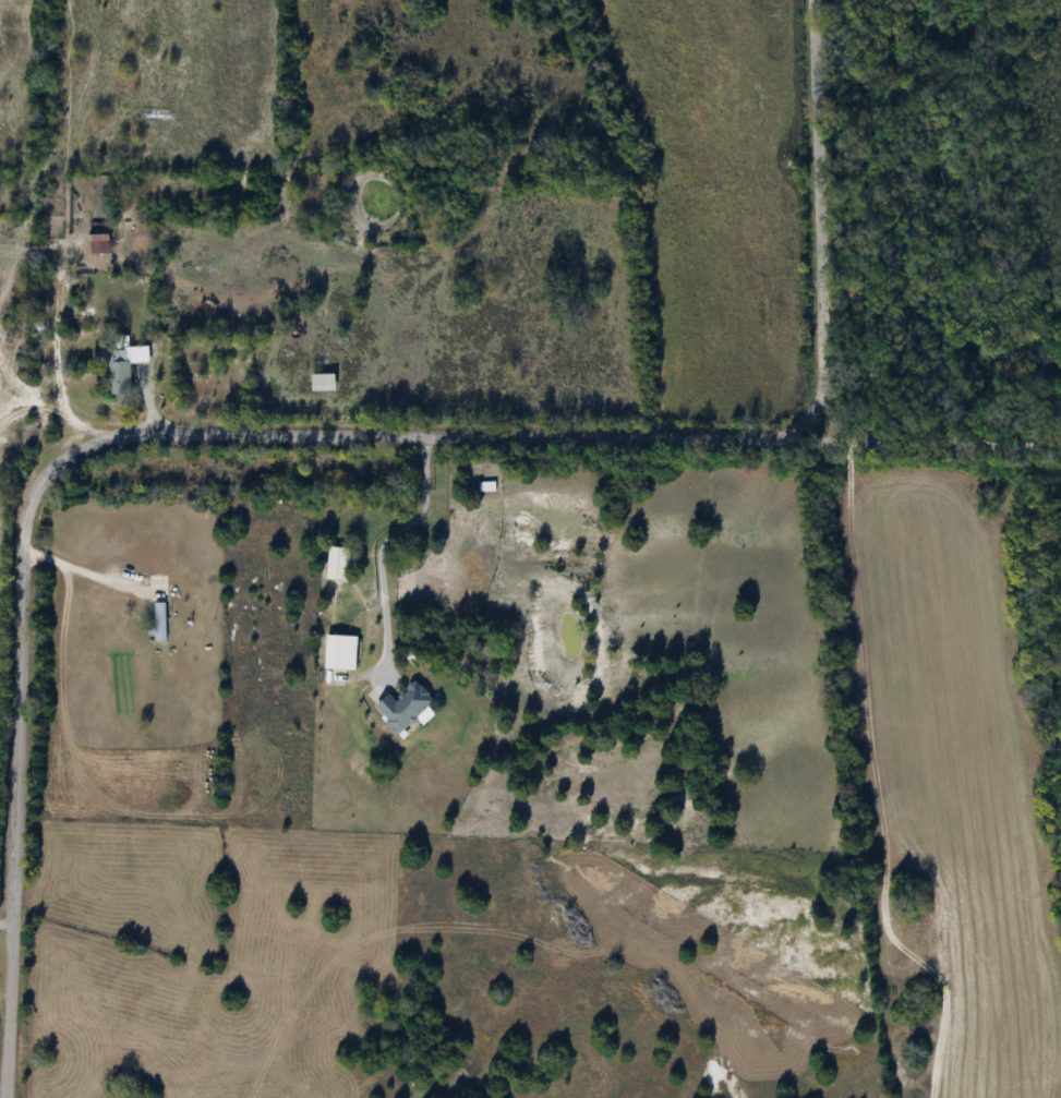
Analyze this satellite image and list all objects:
road: (819, 220)
building: (97, 237)
road: (58, 348)
building: (114, 370)
road: (116, 435)
road: (944, 441)
road: (377, 545)
building: (335, 563)
road: (77, 566)
building: (157, 622)
building: (338, 651)
building: (401, 707)
road: (5, 924)
road: (4, 996)

